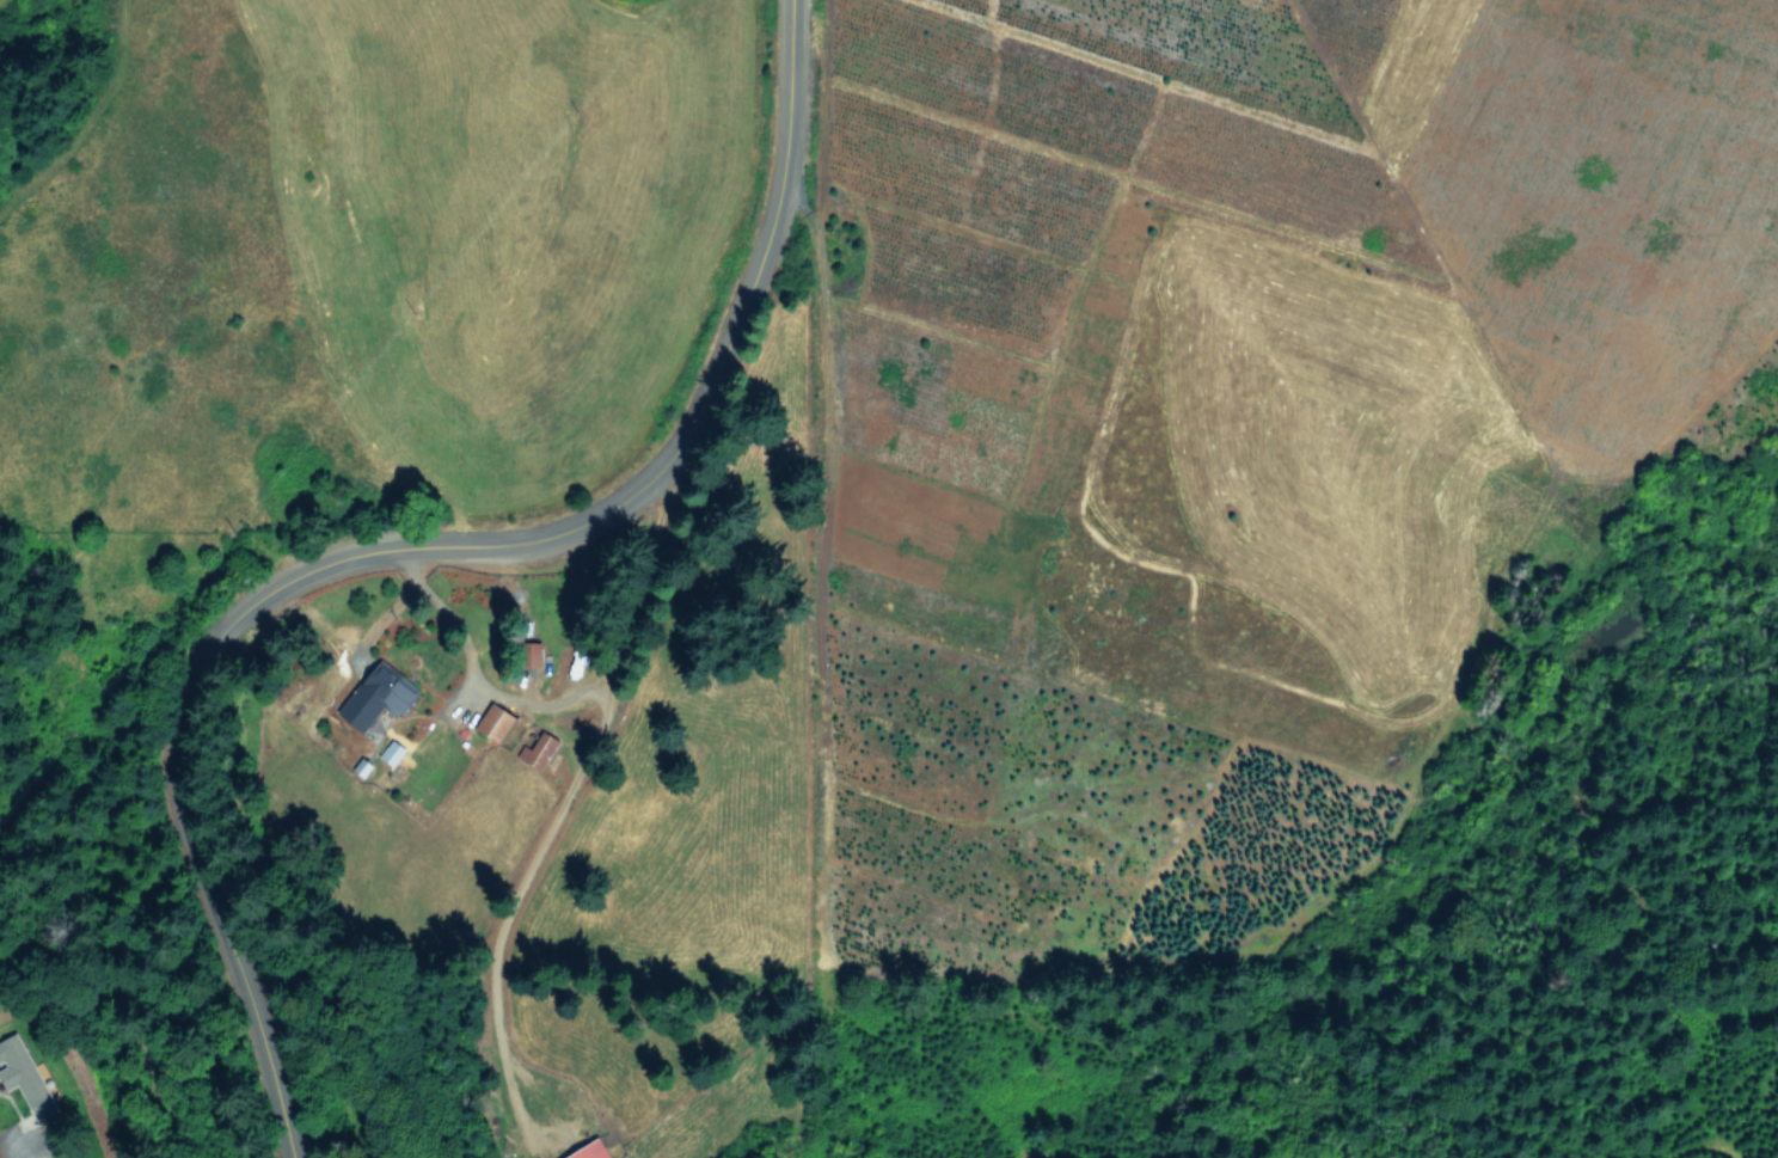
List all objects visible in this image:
road: (399, 540)
road: (444, 615)
building: (379, 696)
building: (497, 721)
building: (540, 749)
building: (392, 750)
building: (25, 1074)
road: (33, 1151)
building: (593, 1151)

